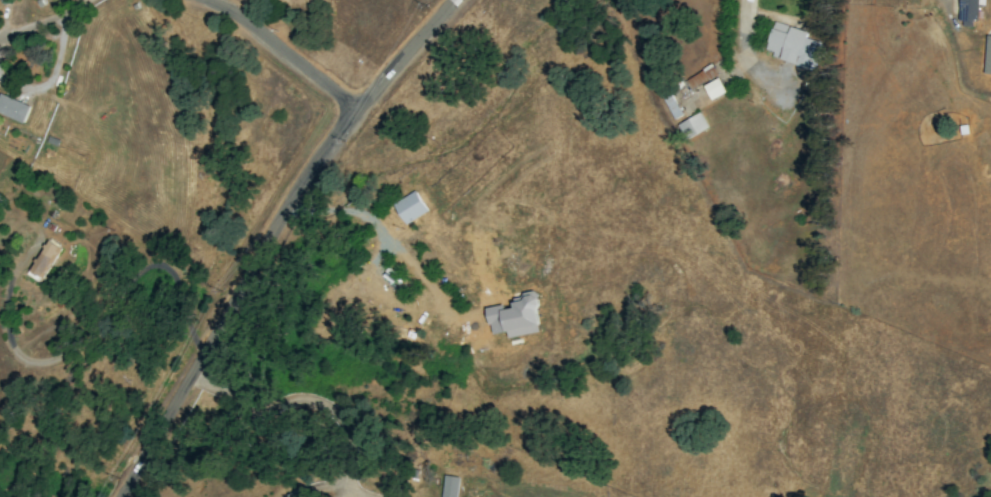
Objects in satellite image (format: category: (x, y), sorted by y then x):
building: (4, 1)
road: (77, 6)
building: (968, 13)
road: (30, 25)
building: (792, 45)
road: (286, 50)
building: (987, 55)
road: (52, 74)
building: (700, 77)
building: (714, 88)
building: (672, 106)
building: (13, 108)
building: (691, 126)
road: (345, 211)
road: (269, 233)
building: (44, 260)
road: (96, 320)
road: (295, 397)
building: (450, 486)
road: (317, 488)
road: (339, 493)

